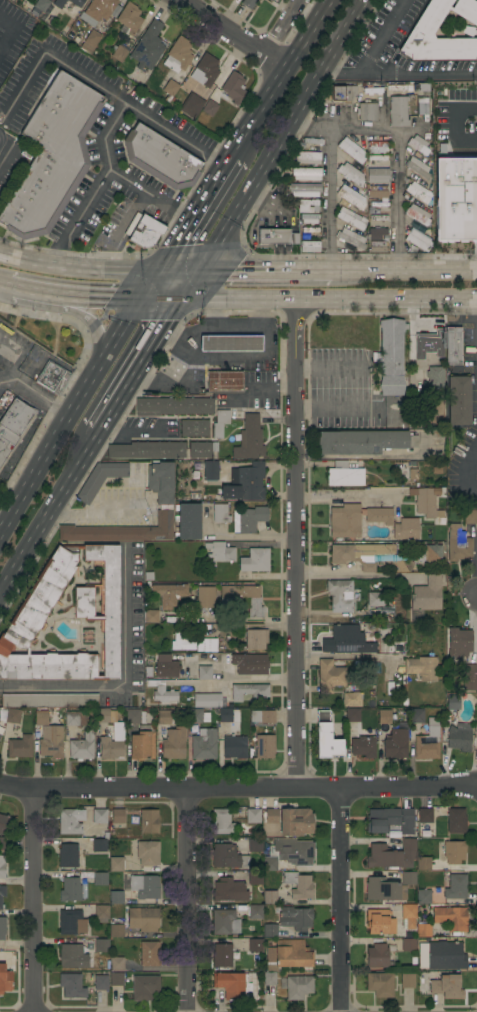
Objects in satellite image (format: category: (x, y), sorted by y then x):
building: (268, 0)
building: (271, 0)
building: (76, 2)
building: (57, 3)
building: (248, 3)
building: (41, 5)
building: (99, 11)
building: (128, 19)
road: (280, 25)
building: (422, 30)
road: (235, 32)
road: (9, 33)
road: (382, 36)
building: (89, 41)
building: (147, 46)
building: (119, 52)
building: (178, 55)
building: (204, 70)
road: (399, 72)
road: (277, 77)
road: (102, 84)
building: (233, 87)
building: (395, 87)
building: (409, 87)
building: (423, 87)
building: (169, 90)
building: (372, 90)
building: (341, 93)
building: (182, 97)
building: (455, 100)
building: (194, 105)
building: (209, 108)
building: (422, 108)
building: (366, 111)
building: (397, 111)
road: (279, 134)
building: (311, 141)
building: (418, 144)
building: (377, 147)
road: (398, 148)
building: (351, 150)
building: (51, 157)
building: (307, 157)
building: (376, 157)
building: (160, 158)
building: (356, 165)
building: (418, 166)
building: (452, 166)
building: (14, 170)
building: (305, 173)
building: (350, 173)
building: (377, 175)
building: (418, 178)
road: (97, 183)
building: (374, 187)
building: (304, 189)
building: (416, 192)
road: (147, 193)
building: (376, 194)
building: (350, 197)
road: (330, 198)
building: (378, 203)
building: (307, 205)
building: (370, 209)
road: (191, 212)
building: (416, 214)
building: (377, 217)
building: (308, 218)
building: (350, 218)
building: (309, 229)
road: (458, 229)
building: (425, 231)
building: (377, 233)
building: (145, 235)
building: (275, 236)
building: (305, 236)
building: (350, 238)
building: (417, 239)
building: (377, 243)
building: (309, 246)
building: (347, 247)
building: (376, 249)
road: (97, 268)
traffic signals: (197, 269)
road: (264, 269)
traffic signals: (155, 270)
road: (404, 271)
road: (188, 283)
road: (19, 286)
road: (87, 293)
traffic signals: (136, 296)
traffic signals: (180, 298)
road: (306, 299)
road: (212, 312)
road: (82, 313)
road: (126, 313)
road: (218, 326)
building: (429, 343)
building: (230, 344)
building: (452, 346)
building: (390, 356)
road: (21, 363)
road: (137, 365)
road: (331, 368)
building: (52, 378)
building: (434, 378)
building: (223, 381)
road: (9, 384)
road: (272, 387)
road: (43, 398)
building: (458, 400)
building: (173, 406)
road: (331, 409)
building: (219, 423)
building: (12, 425)
building: (194, 428)
road: (128, 432)
building: (248, 439)
road: (49, 442)
building: (363, 442)
building: (200, 449)
building: (147, 450)
road: (368, 457)
road: (471, 465)
building: (210, 470)
building: (344, 474)
building: (99, 479)
building: (247, 481)
road: (348, 495)
building: (164, 498)
building: (425, 502)
road: (47, 509)
road: (91, 513)
building: (219, 513)
building: (469, 517)
building: (248, 519)
building: (187, 521)
building: (344, 521)
building: (393, 522)
road: (0, 525)
road: (254, 537)
building: (457, 544)
road: (296, 545)
building: (219, 552)
building: (430, 555)
building: (369, 556)
building: (254, 560)
road: (324, 571)
building: (168, 594)
building: (340, 595)
building: (425, 596)
building: (205, 597)
building: (242, 599)
building: (374, 599)
building: (37, 601)
building: (388, 609)
road: (124, 616)
building: (150, 616)
building: (255, 639)
building: (347, 640)
building: (181, 642)
building: (459, 642)
building: (206, 644)
building: (395, 648)
road: (339, 657)
building: (249, 664)
building: (164, 666)
building: (365, 666)
building: (421, 668)
building: (476, 671)
building: (203, 673)
building: (329, 676)
building: (469, 677)
road: (243, 681)
road: (60, 691)
building: (161, 691)
building: (249, 692)
building: (206, 700)
building: (350, 700)
building: (48, 702)
building: (452, 702)
building: (476, 711)
building: (105, 715)
building: (194, 715)
building: (228, 715)
building: (352, 715)
building: (416, 715)
building: (12, 716)
building: (262, 716)
building: (135, 717)
building: (165, 717)
building: (383, 717)
building: (74, 718)
building: (325, 737)
building: (459, 737)
building: (427, 741)
building: (51, 742)
building: (142, 743)
building: (173, 743)
building: (203, 744)
building: (395, 744)
building: (19, 746)
building: (233, 746)
building: (264, 746)
building: (363, 746)
building: (81, 747)
building: (109, 748)
road: (470, 788)
road: (231, 792)
building: (99, 816)
building: (117, 816)
building: (253, 816)
building: (271, 816)
building: (424, 816)
building: (69, 821)
building: (148, 821)
building: (390, 821)
building: (455, 821)
building: (221, 822)
building: (295, 822)
building: (5, 824)
building: (5, 843)
building: (99, 845)
building: (254, 845)
building: (453, 852)
building: (147, 853)
building: (288, 853)
building: (67, 855)
building: (391, 855)
building: (227, 857)
building: (423, 863)
building: (115, 864)
building: (2, 866)
building: (100, 878)
building: (255, 878)
building: (407, 878)
building: (298, 885)
building: (144, 886)
building: (455, 887)
building: (72, 889)
building: (384, 889)
building: (228, 890)
building: (2, 895)
building: (422, 896)
building: (116, 897)
building: (269, 897)
road: (338, 901)
road: (185, 902)
road: (30, 903)
building: (255, 912)
building: (100, 913)
building: (408, 914)
building: (295, 918)
building: (450, 918)
building: (142, 919)
building: (71, 922)
building: (224, 922)
building: (379, 922)
building: (116, 925)
building: (2, 928)
building: (269, 930)
building: (423, 930)
building: (408, 944)
building: (101, 945)
building: (255, 945)
building: (149, 953)
building: (221, 955)
building: (288, 955)
building: (445, 955)
building: (72, 956)
building: (376, 956)
building: (115, 964)
building: (269, 978)
building: (5, 979)
building: (116, 979)
building: (407, 981)
building: (100, 982)
building: (380, 984)
building: (71, 985)
building: (232, 985)
building: (144, 987)
building: (298, 987)
building: (446, 987)

